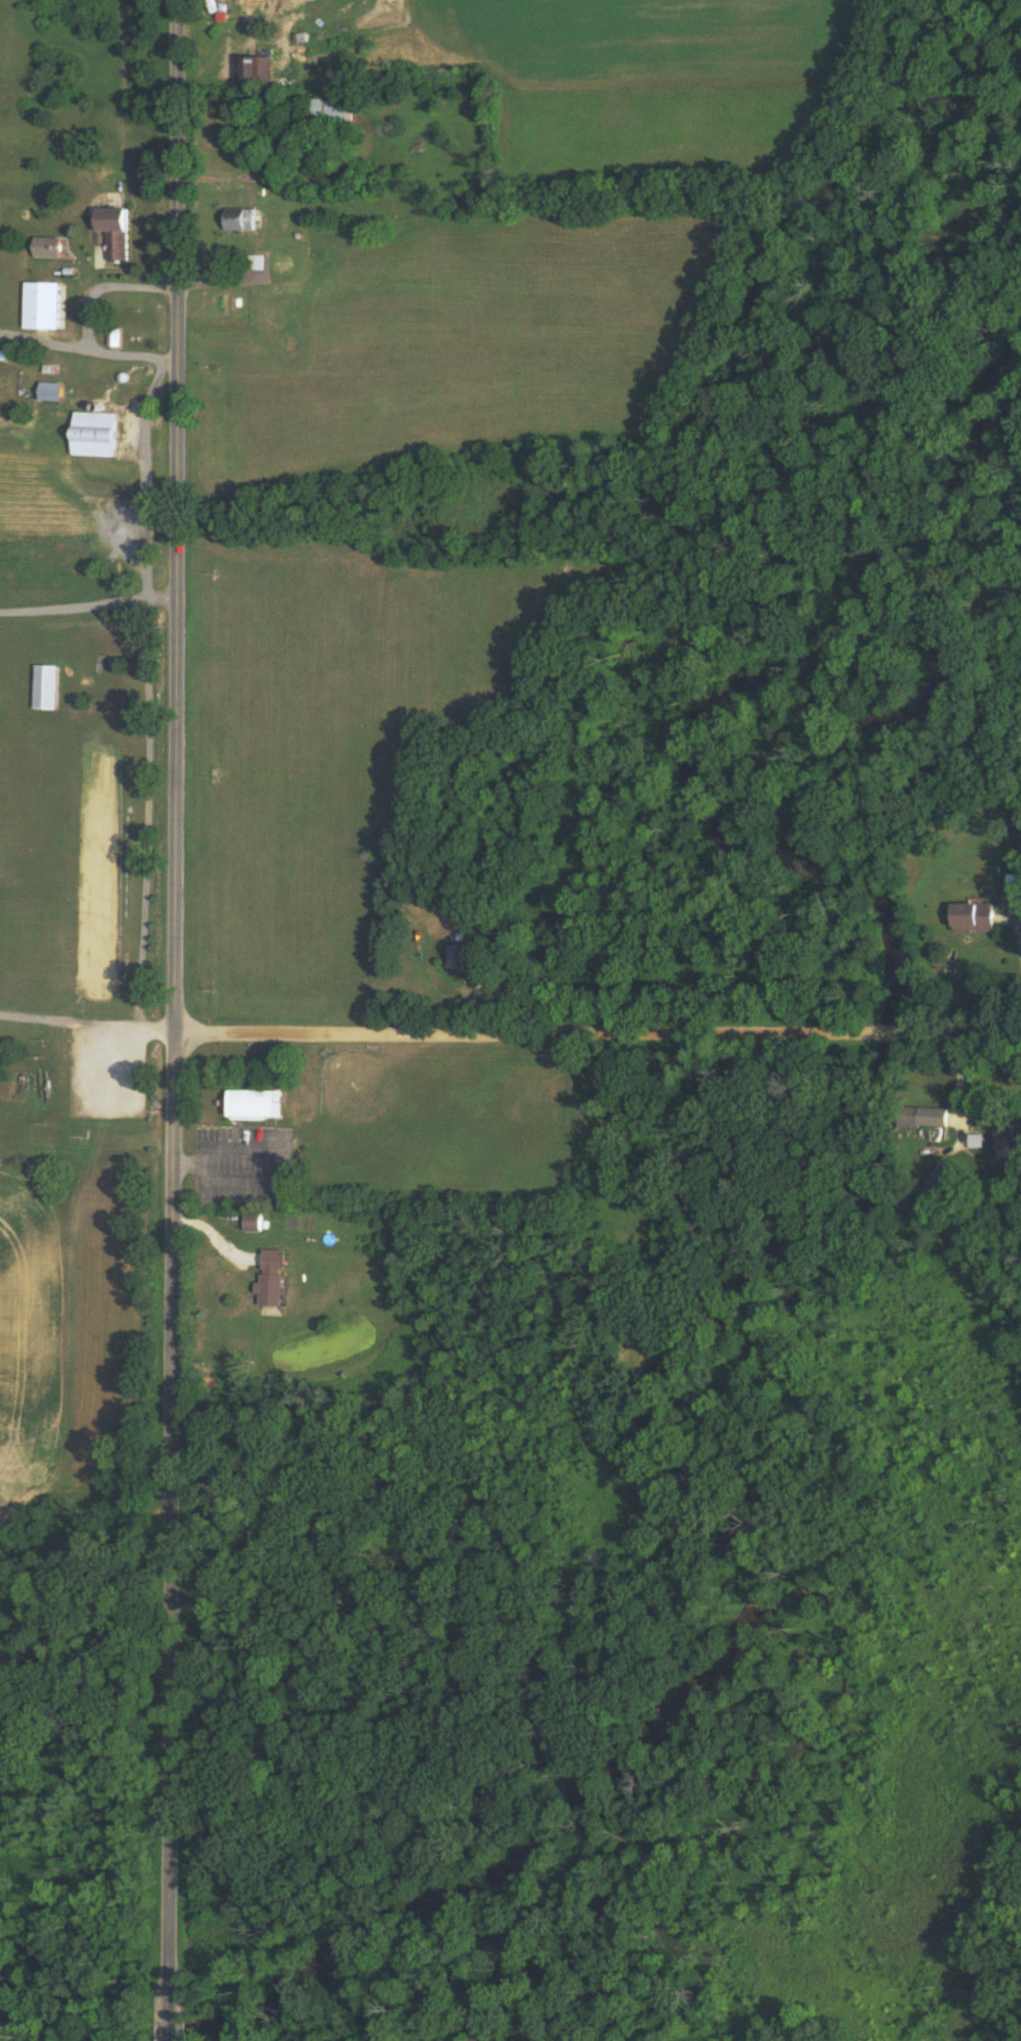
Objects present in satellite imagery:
building: (233, 9)
building: (256, 69)
building: (330, 110)
building: (249, 124)
building: (239, 218)
building: (114, 230)
road: (104, 285)
building: (67, 295)
road: (87, 349)
building: (49, 390)
building: (92, 434)
road: (88, 604)
building: (1012, 892)
building: (972, 917)
road: (1018, 930)
building: (456, 957)
road: (177, 1020)
road: (88, 1023)
road: (599, 1034)
building: (252, 1102)
building: (923, 1117)
building: (1007, 1138)
building: (249, 1220)
building: (271, 1276)

